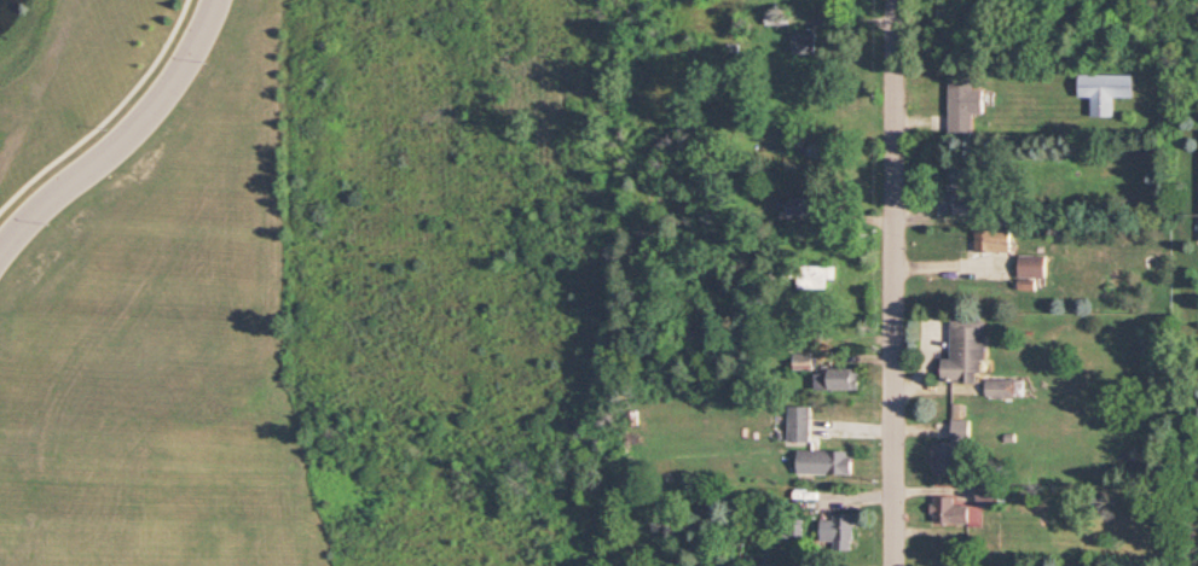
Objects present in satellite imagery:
building: (805, 43)
building: (1106, 91)
road: (98, 104)
building: (963, 104)
road: (123, 141)
building: (957, 202)
building: (805, 206)
building: (994, 240)
building: (1034, 266)
building: (816, 275)
road: (891, 282)
building: (966, 350)
building: (804, 360)
building: (839, 379)
building: (997, 386)
building: (800, 424)
building: (961, 430)
building: (945, 456)
building: (824, 461)
building: (988, 494)
building: (949, 510)
building: (839, 530)

